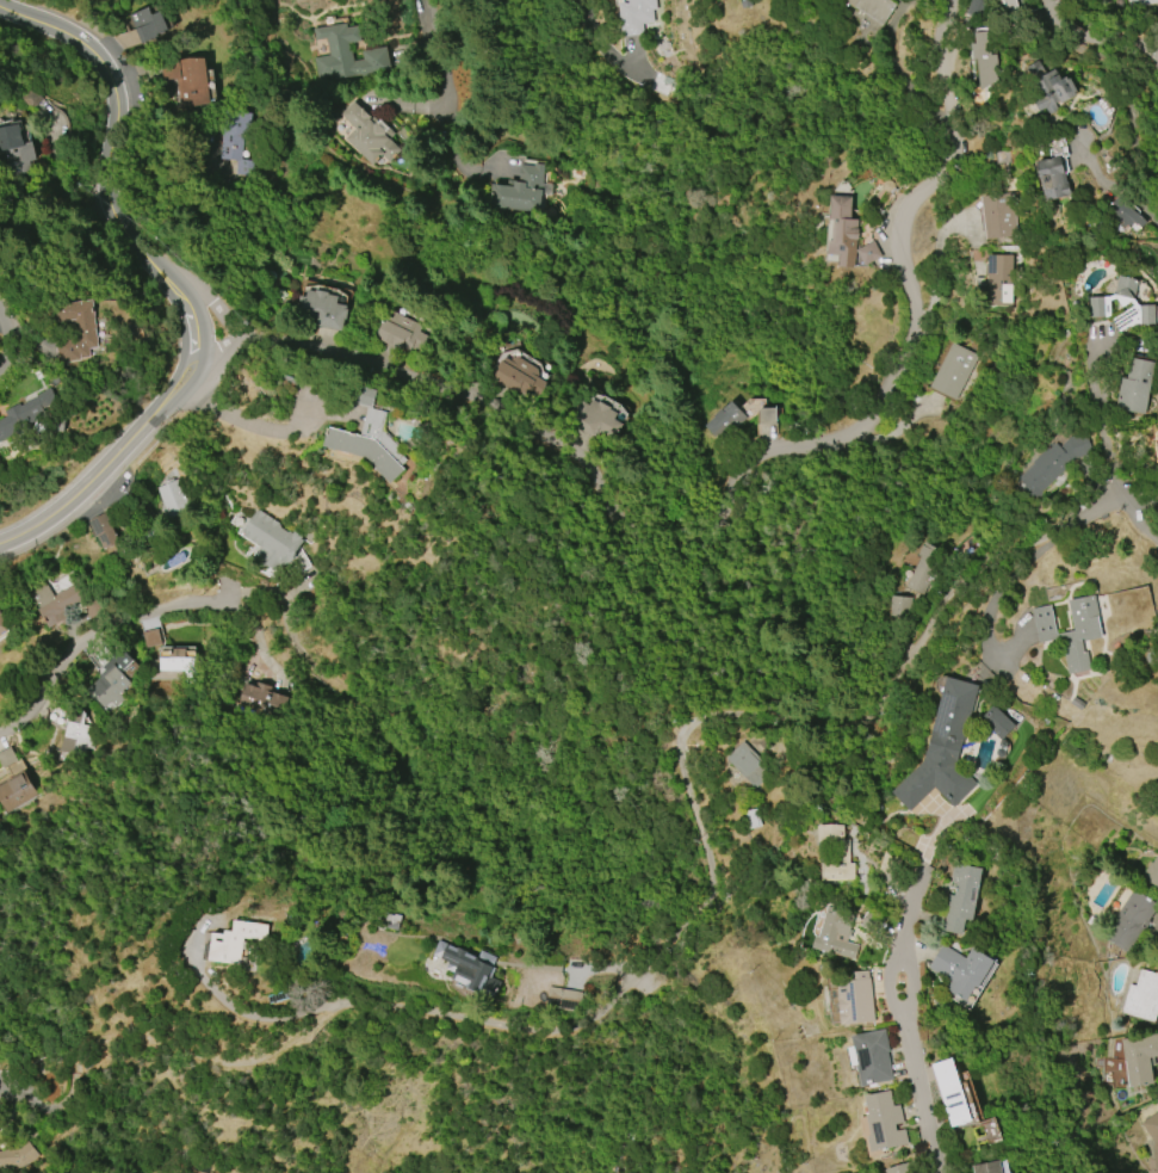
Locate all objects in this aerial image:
building: (1141, 2)
building: (1010, 6)
building: (977, 7)
building: (873, 8)
building: (636, 16)
building: (149, 24)
road: (597, 27)
road: (1096, 36)
building: (347, 55)
building: (985, 57)
road: (445, 58)
road: (898, 66)
building: (187, 79)
road: (533, 87)
building: (1048, 87)
road: (411, 105)
building: (367, 136)
building: (236, 141)
building: (14, 153)
road: (104, 172)
building: (1052, 179)
building: (518, 191)
building: (998, 216)
building: (1126, 216)
building: (843, 230)
building: (868, 253)
building: (999, 279)
road: (196, 286)
building: (1123, 305)
building: (323, 309)
building: (75, 332)
building: (401, 333)
road: (14, 344)
road: (217, 354)
building: (953, 371)
building: (522, 378)
building: (1135, 387)
road: (168, 388)
road: (178, 396)
building: (25, 415)
road: (1100, 415)
building: (767, 416)
building: (595, 421)
building: (725, 421)
road: (248, 424)
building: (369, 437)
building: (1052, 465)
road: (742, 470)
road: (86, 484)
building: (169, 499)
road: (1137, 499)
road: (1137, 519)
building: (104, 531)
building: (270, 543)
building: (925, 569)
building: (52, 603)
building: (899, 606)
building: (2, 629)
building: (1071, 630)
road: (986, 631)
road: (93, 634)
building: (148, 638)
building: (175, 660)
building: (112, 679)
building: (258, 699)
building: (997, 722)
building: (73, 740)
building: (942, 751)
building: (5, 758)
building: (749, 765)
road: (688, 784)
building: (16, 792)
building: (834, 854)
building: (890, 864)
building: (1151, 872)
building: (961, 897)
road: (911, 900)
road: (706, 902)
building: (1129, 921)
building: (836, 933)
road: (902, 937)
building: (237, 942)
building: (466, 965)
building: (961, 970)
building: (1142, 996)
building: (855, 999)
building: (564, 1000)
building: (872, 1057)
building: (1139, 1060)
building: (950, 1092)
road: (921, 1103)
building: (884, 1123)
building: (1152, 1135)
building: (18, 1156)
building: (899, 1168)
building: (987, 1168)

